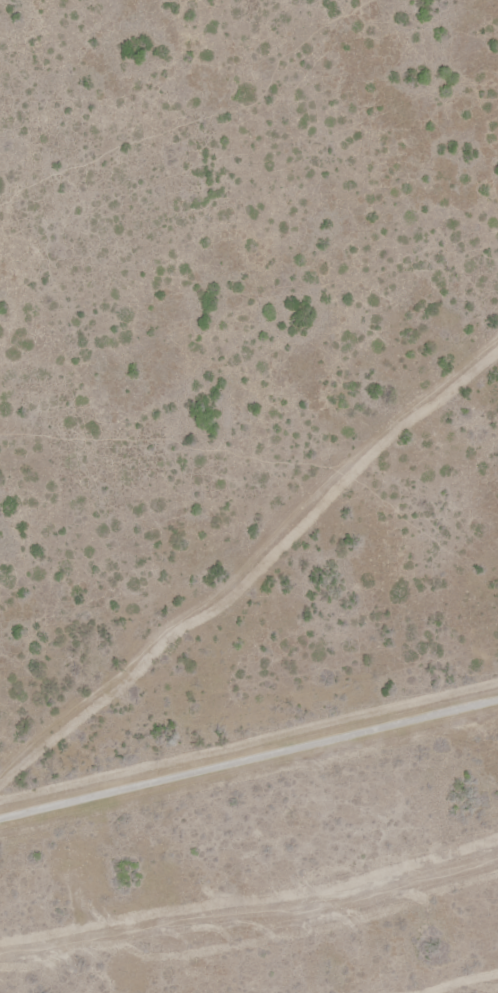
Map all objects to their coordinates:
road: (249, 764)
road: (22, 789)

